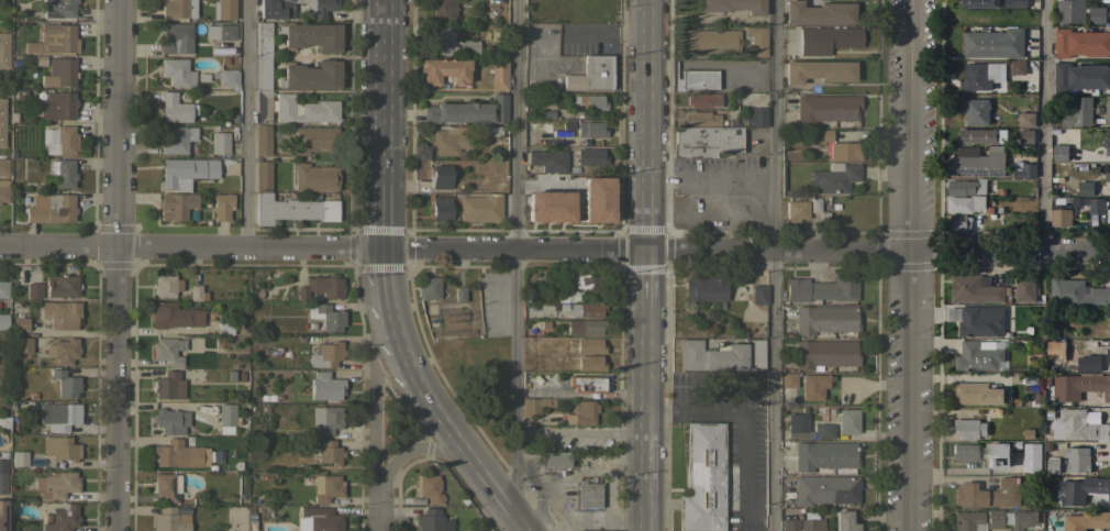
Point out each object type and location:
building: (1103, 1)
building: (978, 3)
building: (1014, 3)
building: (731, 5)
building: (443, 7)
building: (58, 8)
building: (177, 8)
building: (275, 8)
building: (223, 9)
building: (1069, 11)
building: (818, 12)
building: (1096, 15)
building: (220, 32)
building: (312, 35)
building: (176, 37)
building: (53, 38)
building: (826, 38)
building: (756, 40)
building: (712, 41)
building: (451, 43)
building: (1080, 43)
building: (994, 44)
building: (3, 49)
building: (38, 59)
building: (444, 70)
building: (59, 71)
building: (176, 71)
building: (818, 71)
building: (263, 73)
building: (498, 74)
building: (592, 74)
building: (990, 74)
building: (311, 75)
building: (201, 77)
building: (226, 77)
building: (1080, 77)
building: (695, 79)
building: (19, 93)
road: (384, 96)
building: (702, 100)
building: (590, 102)
building: (57, 106)
building: (176, 108)
building: (825, 108)
building: (303, 109)
building: (468, 110)
building: (1107, 111)
building: (976, 112)
building: (1077, 113)
building: (755, 117)
building: (701, 119)
building: (1025, 120)
building: (2, 121)
road: (245, 124)
road: (646, 125)
road: (911, 126)
road: (1045, 126)
building: (589, 129)
building: (491, 130)
building: (823, 134)
building: (980, 136)
building: (1025, 136)
building: (314, 139)
building: (59, 140)
building: (177, 140)
building: (262, 140)
building: (447, 141)
building: (704, 141)
building: (219, 143)
building: (1107, 145)
building: (843, 151)
building: (1059, 153)
building: (589, 156)
building: (548, 161)
building: (978, 162)
building: (3, 166)
building: (1023, 170)
building: (185, 172)
building: (65, 174)
building: (440, 176)
building: (314, 177)
building: (1107, 177)
building: (834, 179)
building: (1109, 186)
building: (965, 188)
building: (1085, 189)
building: (3, 190)
building: (596, 199)
building: (286, 202)
building: (813, 204)
building: (966, 204)
building: (177, 206)
building: (222, 206)
building: (547, 206)
building: (51, 208)
building: (440, 208)
building: (479, 208)
building: (796, 210)
building: (1099, 212)
road: (384, 221)
building: (959, 222)
road: (322, 250)
road: (878, 252)
road: (112, 265)
road: (514, 265)
road: (775, 265)
building: (586, 280)
building: (62, 286)
building: (166, 286)
building: (321, 287)
building: (428, 288)
building: (703, 288)
building: (1024, 288)
building: (3, 289)
building: (821, 289)
building: (33, 290)
building: (974, 290)
building: (197, 292)
building: (1076, 292)
building: (459, 294)
building: (758, 295)
building: (575, 301)
road: (385, 305)
building: (544, 312)
building: (60, 314)
building: (174, 316)
building: (325, 316)
building: (825, 320)
building: (3, 321)
building: (980, 321)
building: (20, 324)
building: (543, 324)
building: (1109, 324)
building: (224, 327)
building: (584, 327)
building: (540, 342)
building: (23, 345)
building: (584, 345)
building: (168, 350)
building: (63, 351)
building: (1055, 352)
building: (756, 354)
building: (824, 354)
building: (326, 355)
building: (710, 355)
building: (978, 356)
building: (1107, 357)
building: (588, 363)
building: (1088, 364)
road: (387, 367)
road: (407, 369)
road: (646, 373)
building: (788, 380)
building: (65, 383)
building: (586, 383)
building: (168, 386)
building: (325, 386)
building: (813, 386)
building: (1078, 387)
building: (1029, 388)
road: (910, 391)
building: (979, 395)
building: (1036, 399)
building: (534, 405)
building: (581, 412)
building: (58, 414)
building: (226, 414)
building: (326, 419)
building: (169, 420)
road: (437, 420)
building: (847, 421)
building: (797, 422)
building: (1076, 427)
building: (968, 429)
building: (823, 430)
road: (580, 431)
road: (741, 433)
building: (1028, 434)
road: (374, 435)
building: (1014, 445)
building: (60, 447)
road: (412, 451)
building: (329, 452)
building: (963, 452)
building: (171, 453)
building: (824, 455)
building: (997, 455)
building: (1031, 457)
building: (19, 458)
building: (1076, 460)
building: (556, 461)
building: (1052, 465)
road: (578, 471)
building: (3, 472)
building: (702, 478)
road: (490, 484)
building: (56, 485)
building: (166, 486)
building: (326, 487)
building: (429, 488)
building: (824, 489)
building: (1083, 490)
building: (987, 494)
building: (588, 495)
road: (548, 508)
road: (378, 512)
road: (645, 512)
building: (2, 515)
road: (601, 517)
building: (59, 518)
building: (994, 518)
building: (318, 519)
road: (557, 519)
building: (1019, 519)
building: (169, 520)
building: (432, 521)
road: (521, 521)
building: (844, 521)
building: (967, 521)
building: (1086, 521)
building: (810, 522)
building: (789, 524)
building: (606, 530)

